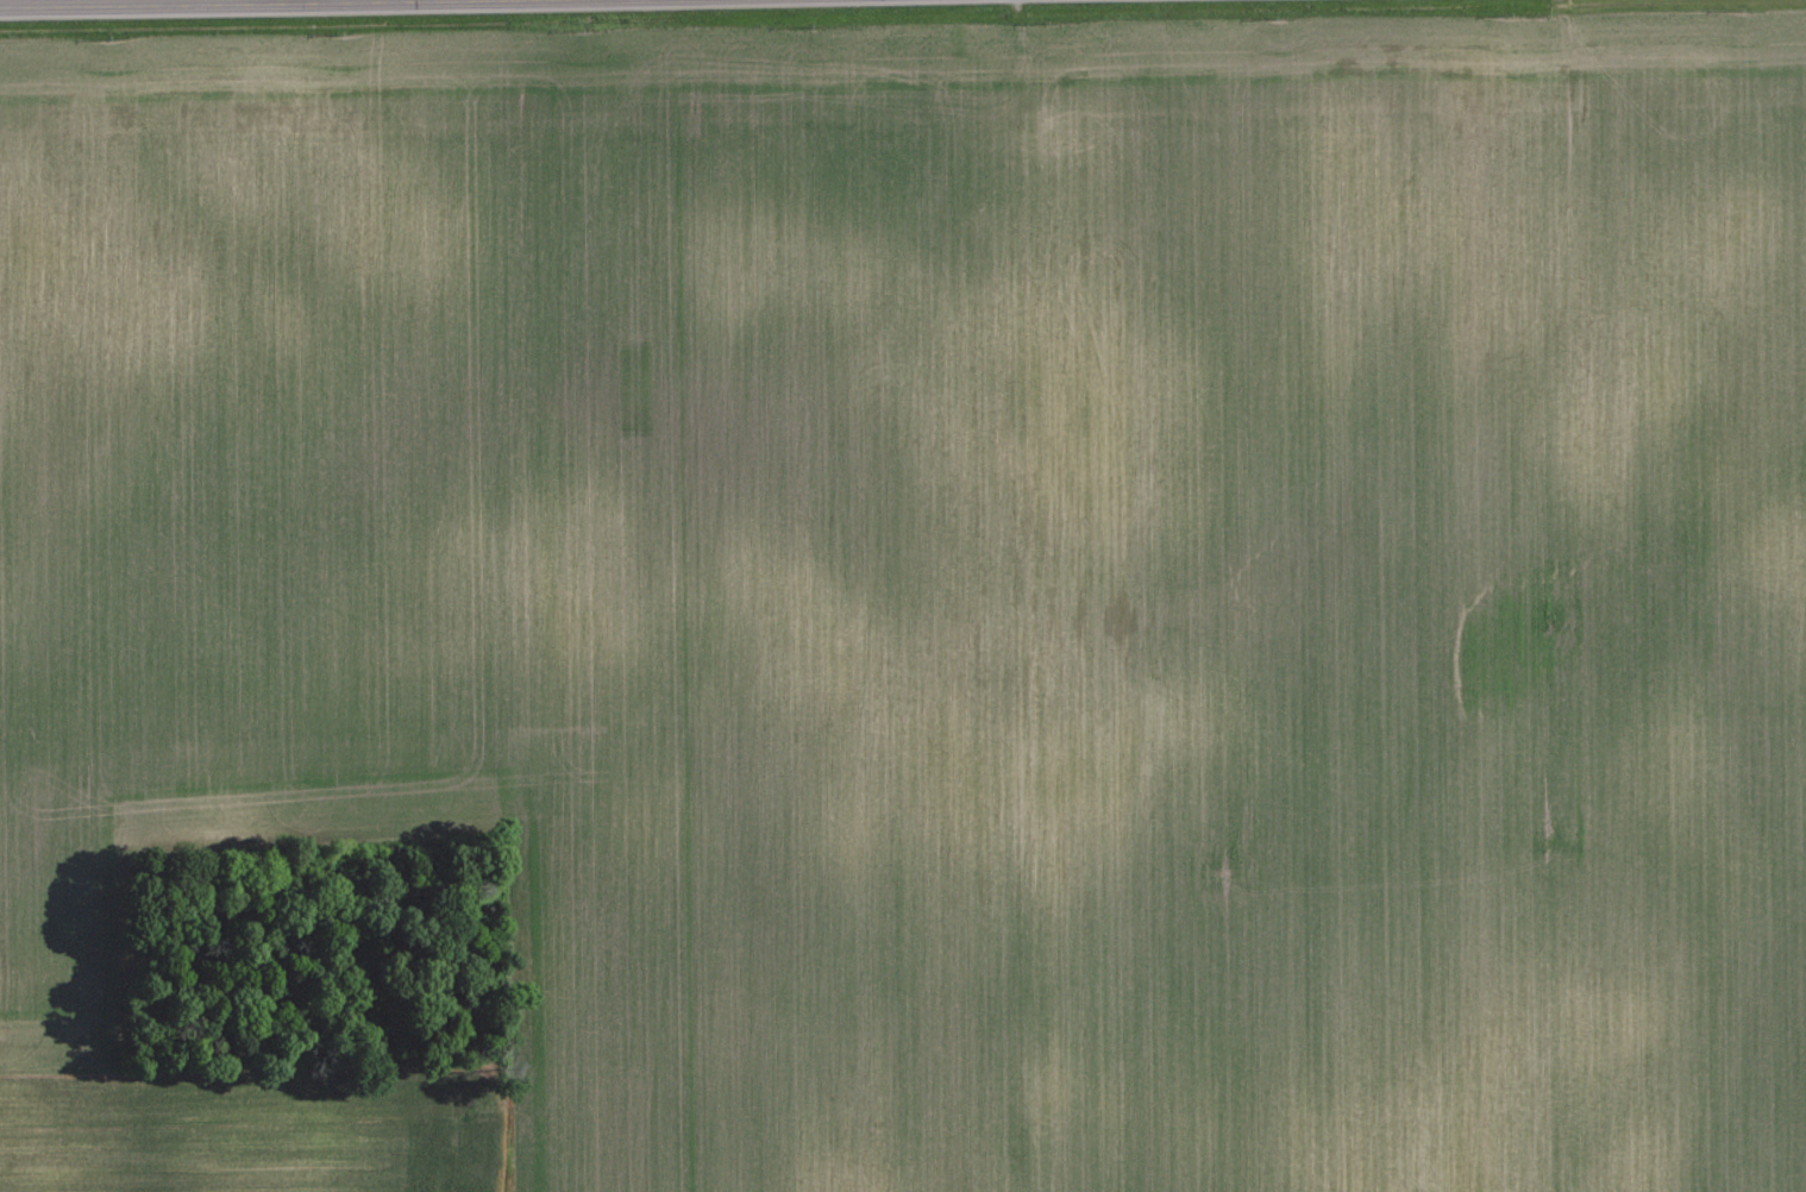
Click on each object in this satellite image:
road: (107, 1)

